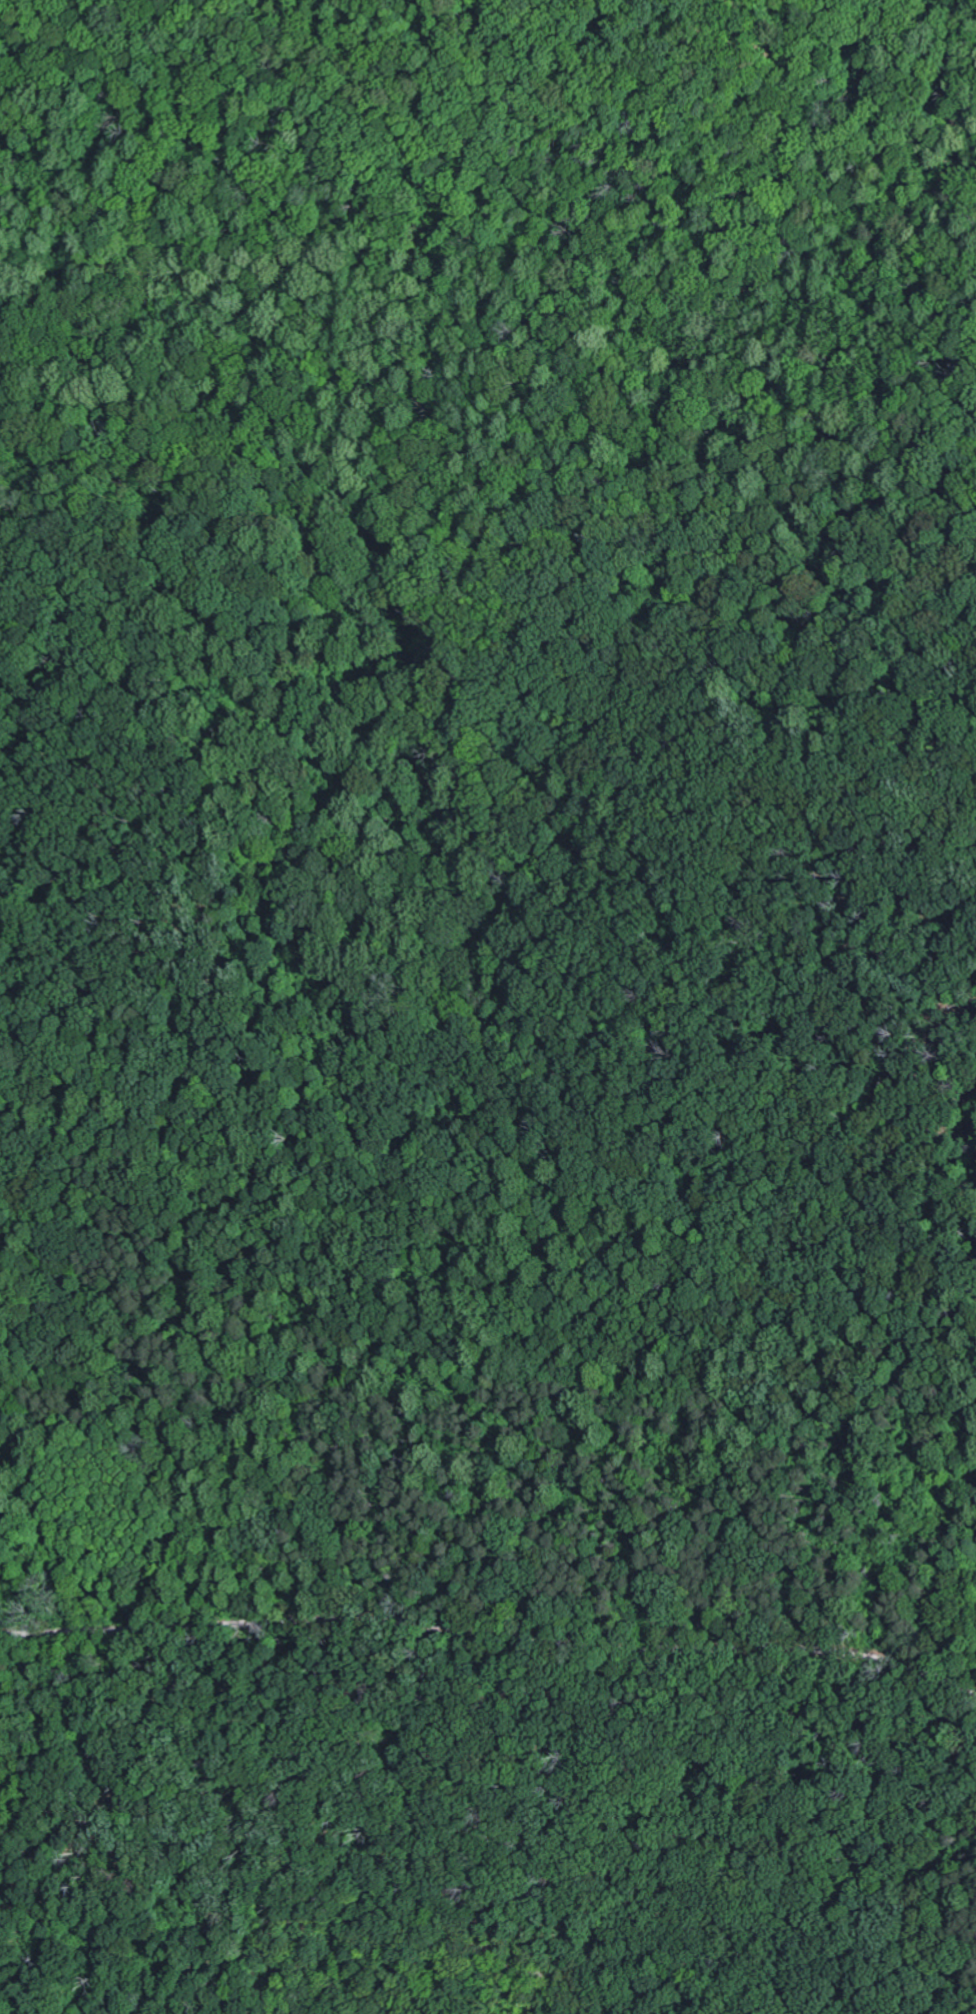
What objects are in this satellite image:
road: (490, 1637)

